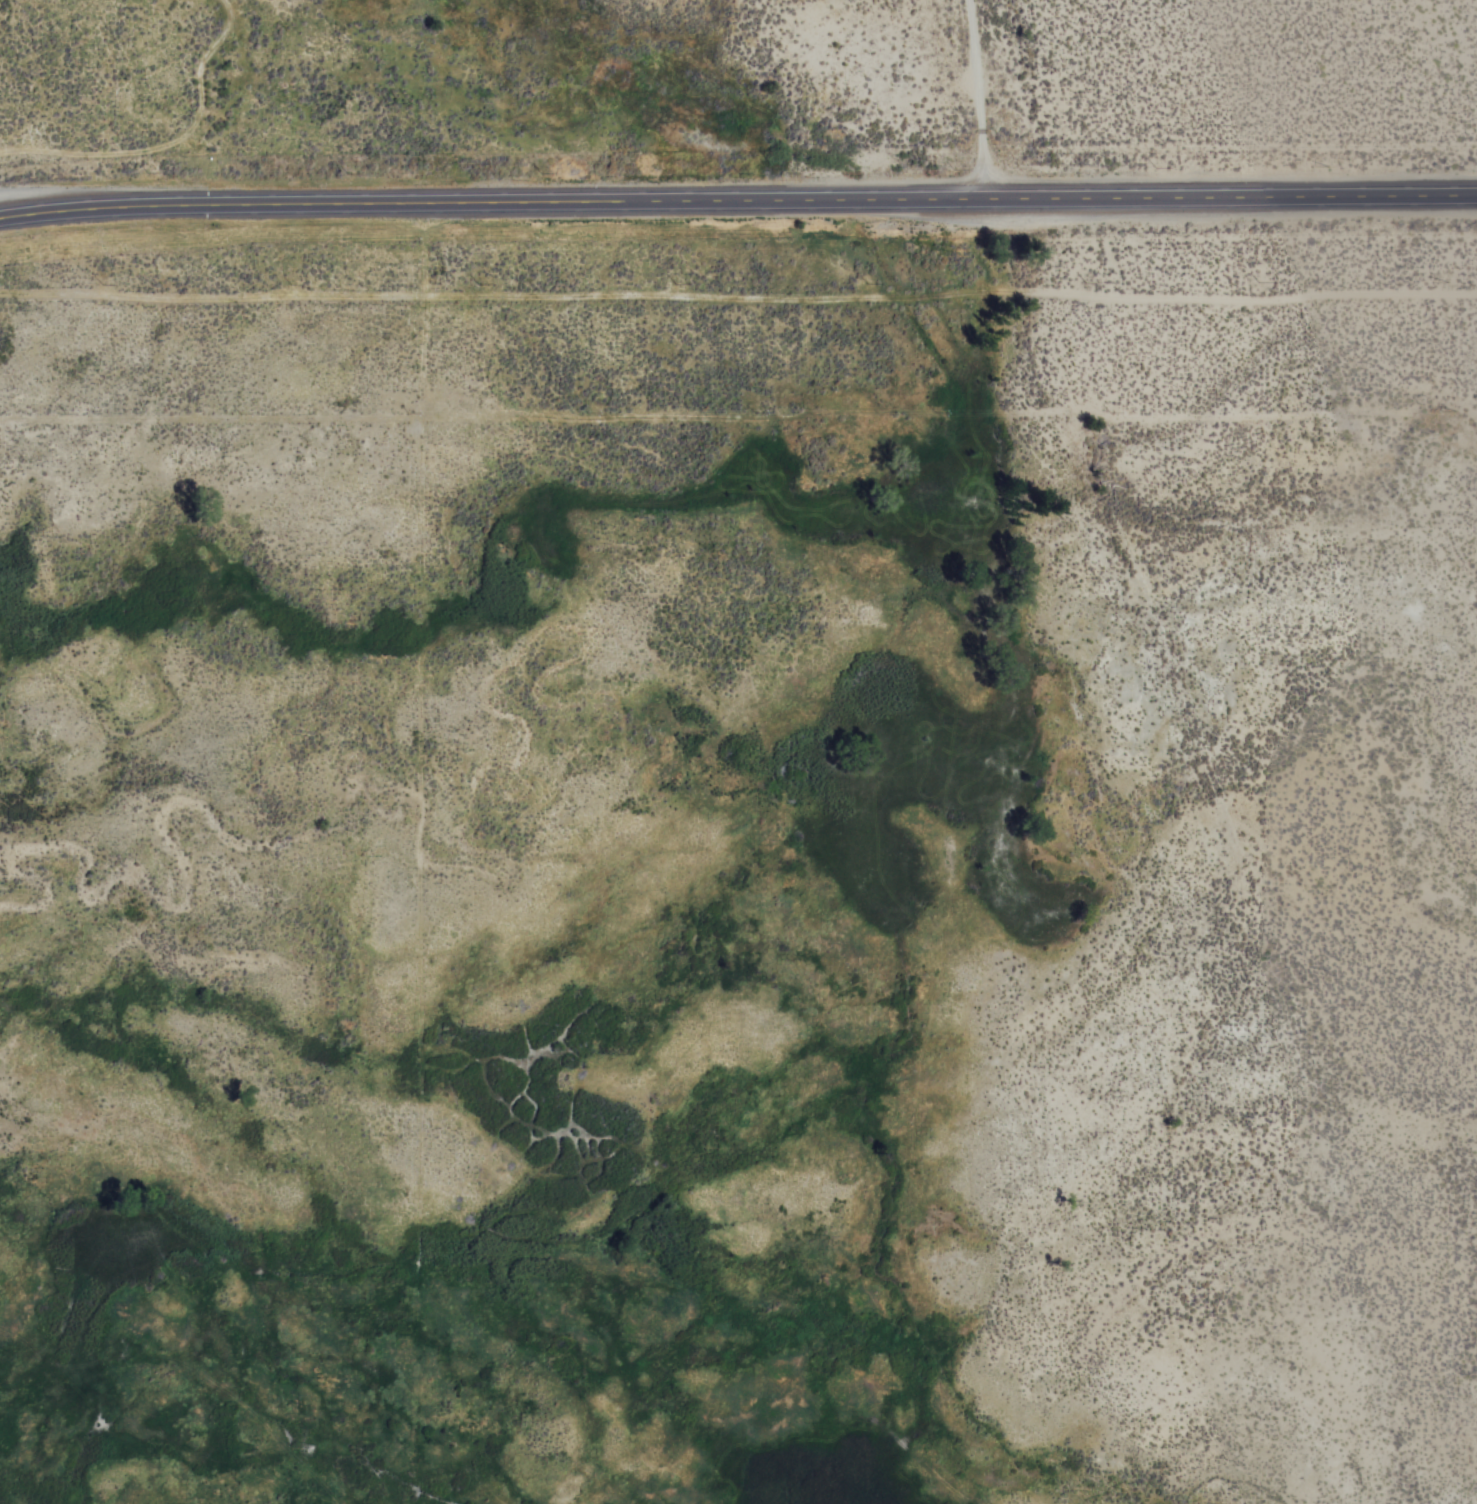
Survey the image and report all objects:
road: (978, 100)
road: (738, 202)
road: (2, 212)
road: (739, 290)
road: (1237, 423)
road: (468, 424)
road: (982, 1497)

